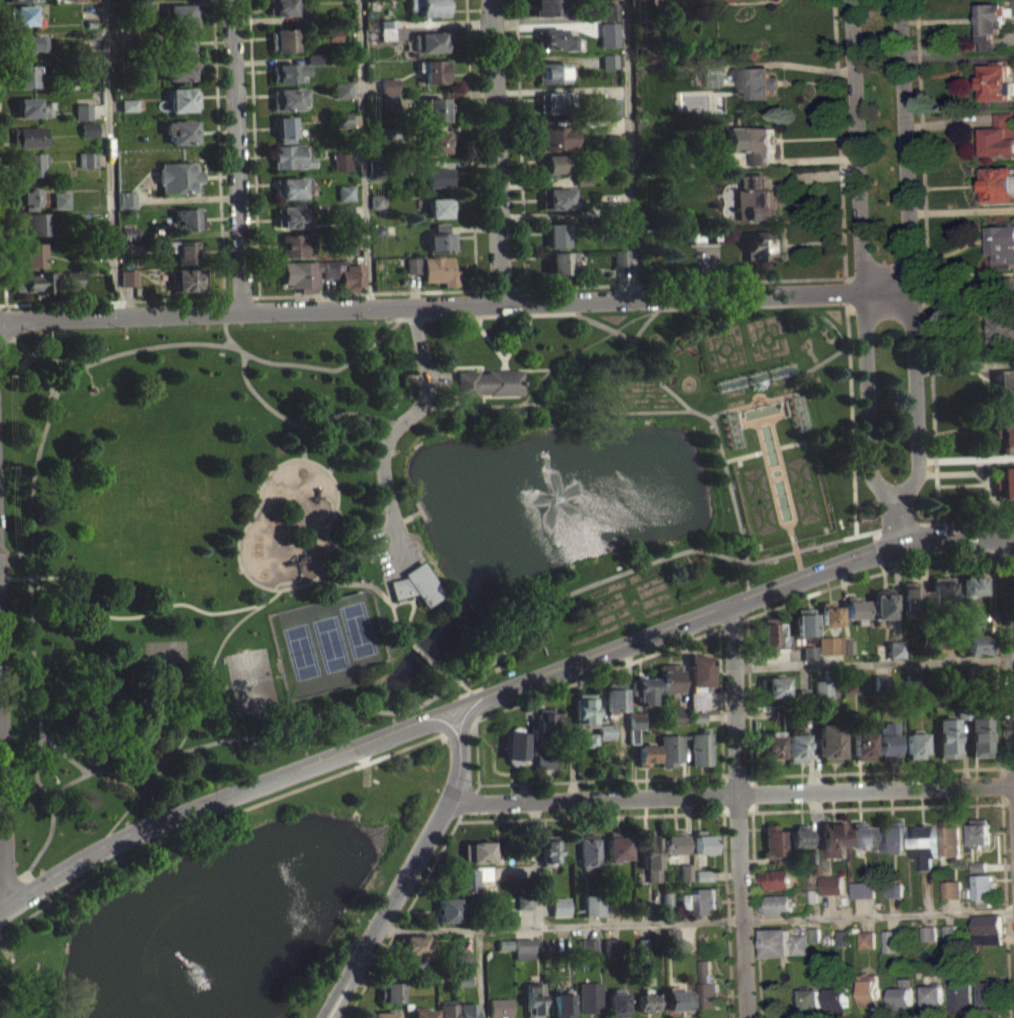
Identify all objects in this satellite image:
building: (23, 0)
building: (72, 0)
building: (176, 0)
building: (380, 0)
building: (750, 2)
building: (91, 3)
building: (639, 3)
building: (429, 6)
building: (548, 6)
building: (281, 7)
building: (142, 9)
building: (610, 11)
building: (21, 14)
building: (180, 14)
building: (992, 17)
building: (306, 18)
building: (90, 21)
building: (388, 23)
building: (611, 27)
building: (387, 33)
building: (93, 34)
building: (334, 34)
building: (126, 39)
building: (283, 39)
building: (554, 39)
building: (181, 41)
building: (430, 41)
building: (25, 42)
building: (333, 42)
building: (28, 50)
building: (314, 58)
building: (609, 60)
building: (94, 66)
building: (609, 68)
building: (182, 69)
building: (435, 70)
building: (287, 72)
building: (552, 72)
building: (710, 73)
building: (23, 75)
building: (760, 81)
building: (996, 81)
building: (389, 85)
building: (342, 90)
building: (287, 98)
building: (182, 99)
building: (390, 102)
building: (553, 102)
building: (128, 105)
building: (30, 107)
building: (434, 108)
building: (614, 110)
building: (83, 111)
building: (128, 112)
building: (343, 119)
building: (343, 126)
building: (88, 128)
building: (285, 129)
building: (181, 131)
building: (392, 132)
building: (28, 136)
building: (88, 136)
building: (559, 136)
building: (998, 136)
building: (437, 141)
building: (616, 142)
road: (520, 143)
building: (753, 143)
road: (921, 143)
road: (218, 148)
road: (254, 148)
road: (629, 149)
road: (496, 151)
road: (839, 151)
road: (362, 153)
road: (236, 154)
building: (291, 156)
road: (109, 157)
building: (86, 159)
building: (342, 162)
building: (555, 163)
building: (29, 165)
building: (376, 169)
building: (177, 176)
building: (437, 176)
building: (997, 184)
building: (290, 187)
road: (472, 188)
building: (345, 192)
building: (557, 197)
building: (754, 197)
building: (28, 198)
building: (126, 198)
building: (60, 200)
building: (377, 200)
building: (438, 206)
building: (376, 208)
building: (613, 208)
building: (341, 211)
building: (290, 216)
building: (188, 218)
building: (341, 219)
road: (2, 221)
building: (34, 223)
building: (86, 226)
building: (378, 230)
building: (128, 233)
building: (558, 234)
building: (704, 234)
building: (440, 238)
building: (129, 240)
building: (342, 243)
building: (296, 244)
building: (761, 245)
building: (1002, 246)
building: (132, 248)
building: (82, 249)
building: (183, 249)
building: (30, 254)
building: (133, 255)
road: (909, 255)
road: (864, 256)
building: (620, 257)
building: (560, 262)
building: (413, 265)
building: (331, 268)
building: (438, 271)
building: (300, 275)
building: (351, 276)
building: (71, 278)
building: (128, 278)
building: (186, 279)
road: (769, 279)
building: (37, 282)
building: (71, 287)
road: (265, 295)
road: (2, 303)
road: (507, 303)
road: (896, 306)
road: (8, 310)
road: (487, 315)
road: (846, 323)
road: (604, 325)
road: (225, 329)
building: (1003, 329)
road: (517, 336)
road: (581, 345)
road: (34, 357)
road: (57, 360)
road: (513, 368)
building: (779, 370)
building: (753, 379)
road: (441, 380)
building: (488, 382)
building: (728, 382)
building: (1004, 385)
road: (787, 393)
road: (780, 397)
road: (482, 399)
road: (260, 400)
road: (554, 401)
road: (738, 407)
road: (52, 411)
building: (798, 413)
road: (335, 414)
road: (763, 418)
road: (932, 423)
road: (396, 426)
building: (730, 429)
building: (1004, 431)
road: (715, 432)
road: (804, 439)
road: (785, 444)
road: (743, 455)
road: (775, 466)
road: (777, 477)
building: (1004, 482)
fountain: (556, 495)
road: (333, 517)
road: (248, 522)
road: (789, 522)
road: (895, 524)
road: (899, 525)
road: (790, 528)
parking lot: (394, 549)
road: (1003, 550)
road: (982, 553)
road: (349, 554)
road: (797, 558)
building: (974, 582)
building: (416, 585)
building: (942, 589)
road: (388, 592)
building: (973, 593)
park: (349, 596)
building: (923, 597)
building: (909, 598)
road: (405, 602)
road: (728, 606)
building: (883, 606)
building: (855, 609)
building: (829, 614)
road: (124, 617)
road: (409, 617)
building: (968, 617)
building: (803, 621)
road: (732, 622)
building: (971, 628)
building: (773, 635)
road: (222, 641)
road: (748, 641)
park: (324, 643)
building: (978, 643)
building: (830, 645)
building: (847, 646)
building: (895, 649)
road: (1010, 649)
building: (809, 652)
road: (420, 653)
building: (809, 660)
road: (873, 662)
building: (698, 669)
road: (446, 673)
building: (978, 673)
building: (668, 678)
park: (250, 680)
building: (913, 680)
building: (882, 681)
building: (850, 684)
road: (465, 685)
building: (775, 686)
building: (642, 688)
building: (822, 689)
building: (881, 689)
building: (850, 692)
road: (440, 694)
building: (803, 694)
building: (614, 697)
road: (720, 701)
building: (697, 704)
road: (503, 709)
building: (585, 709)
building: (679, 714)
building: (696, 716)
road: (473, 719)
building: (634, 719)
building: (678, 721)
road: (750, 721)
building: (547, 724)
building: (604, 730)
building: (632, 736)
building: (980, 736)
building: (948, 737)
building: (605, 738)
building: (591, 739)
building: (887, 740)
building: (830, 741)
building: (772, 744)
building: (863, 744)
building: (915, 744)
building: (514, 745)
building: (796, 746)
building: (590, 747)
building: (700, 748)
building: (669, 749)
road: (477, 750)
road: (62, 752)
building: (531, 754)
building: (646, 754)
building: (544, 767)
road: (1006, 767)
road: (875, 771)
road: (752, 776)
road: (502, 782)
road: (731, 794)
road: (218, 797)
road: (468, 801)
road: (1007, 803)
road: (877, 807)
road: (738, 811)
road: (2, 814)
road: (630, 815)
road: (214, 818)
road: (496, 819)
building: (979, 830)
building: (861, 835)
building: (800, 836)
building: (892, 837)
building: (949, 837)
building: (834, 838)
building: (774, 840)
building: (675, 842)
building: (703, 843)
building: (618, 844)
building: (923, 844)
building: (478, 849)
building: (549, 849)
building: (589, 850)
building: (523, 853)
building: (650, 856)
building: (476, 859)
building: (779, 859)
road: (537, 862)
building: (978, 865)
road: (408, 869)
road: (25, 871)
building: (686, 871)
building: (470, 875)
building: (704, 875)
building: (776, 878)
building: (482, 880)
building: (704, 882)
road: (7, 883)
building: (831, 884)
road: (38, 886)
building: (893, 888)
building: (951, 888)
building: (983, 888)
building: (862, 889)
building: (964, 893)
building: (893, 897)
road: (47, 898)
building: (701, 900)
building: (525, 901)
road: (1003, 902)
building: (776, 903)
building: (593, 905)
building: (559, 906)
building: (643, 907)
building: (447, 908)
building: (524, 909)
road: (755, 914)
building: (642, 915)
road: (726, 915)
road: (401, 918)
road: (694, 921)
building: (987, 923)
building: (927, 932)
building: (948, 932)
building: (813, 934)
building: (671, 937)
building: (841, 937)
building: (986, 938)
building: (865, 939)
building: (948, 939)
building: (891, 940)
building: (927, 940)
building: (773, 941)
building: (813, 941)
building: (412, 943)
building: (798, 943)
building: (504, 944)
building: (643, 945)
building: (841, 945)
building: (550, 946)
building: (586, 946)
building: (612, 946)
building: (987, 946)
building: (523, 948)
building: (412, 952)
building: (504, 952)
building: (642, 953)
building: (405, 961)
building: (405, 972)
road: (479, 973)
building: (707, 986)
building: (390, 990)
building: (990, 990)
building: (868, 991)
building: (958, 992)
building: (901, 994)
building: (932, 994)
building: (590, 996)
building: (533, 998)
building: (810, 998)
building: (389, 999)
building: (837, 999)
building: (679, 1000)
building: (648, 1001)
building: (618, 1002)
building: (562, 1004)
building: (499, 1007)
building: (446, 1014)
building: (467, 1014)
building: (424, 1017)

